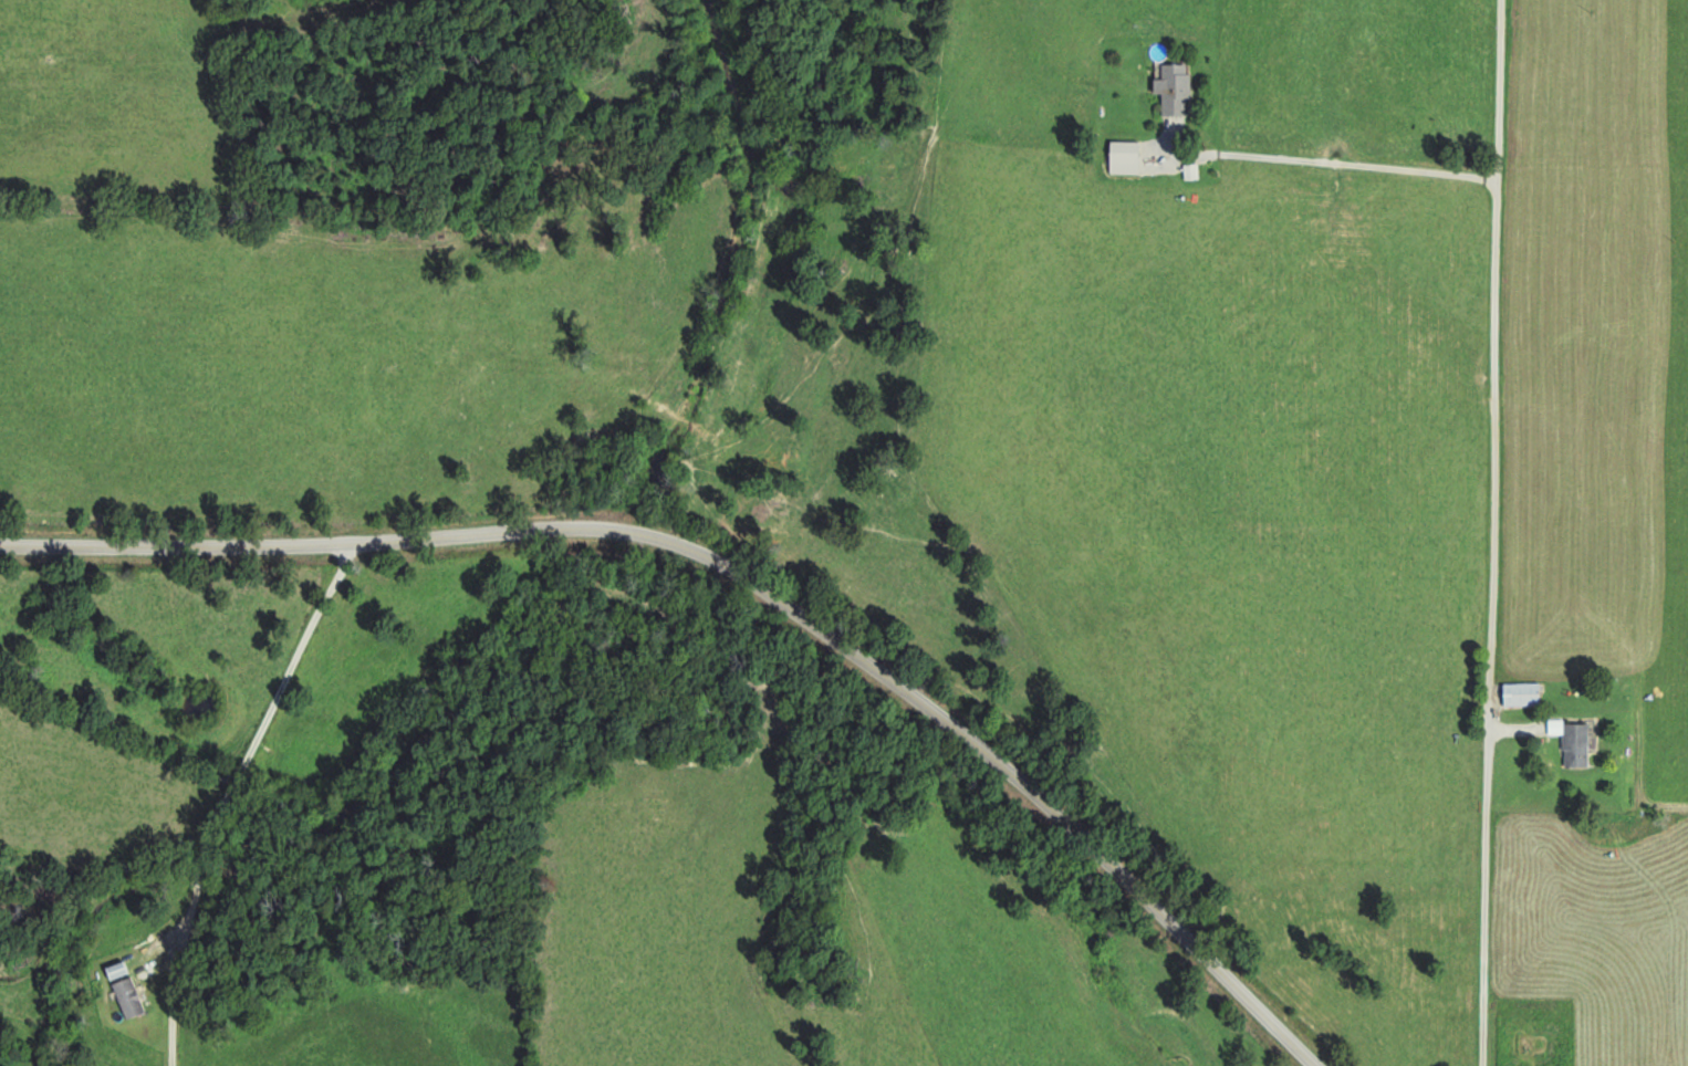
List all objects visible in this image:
building: (1169, 88)
building: (1119, 157)
road: (1332, 159)
road: (1504, 532)
road: (744, 579)
building: (1518, 694)
building: (1572, 744)
road: (228, 796)
building: (111, 971)
building: (124, 997)

